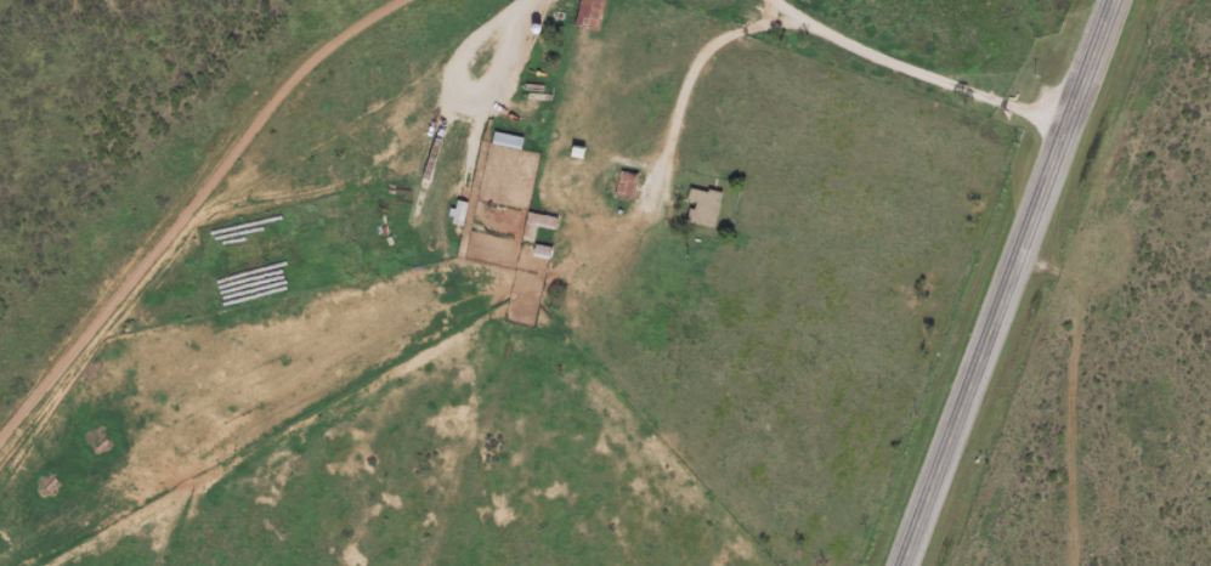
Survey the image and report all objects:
building: (587, 13)
road: (842, 67)
building: (504, 138)
building: (623, 183)
building: (698, 204)
building: (455, 211)
building: (537, 221)
road: (219, 233)
building: (532, 249)
road: (1008, 283)

